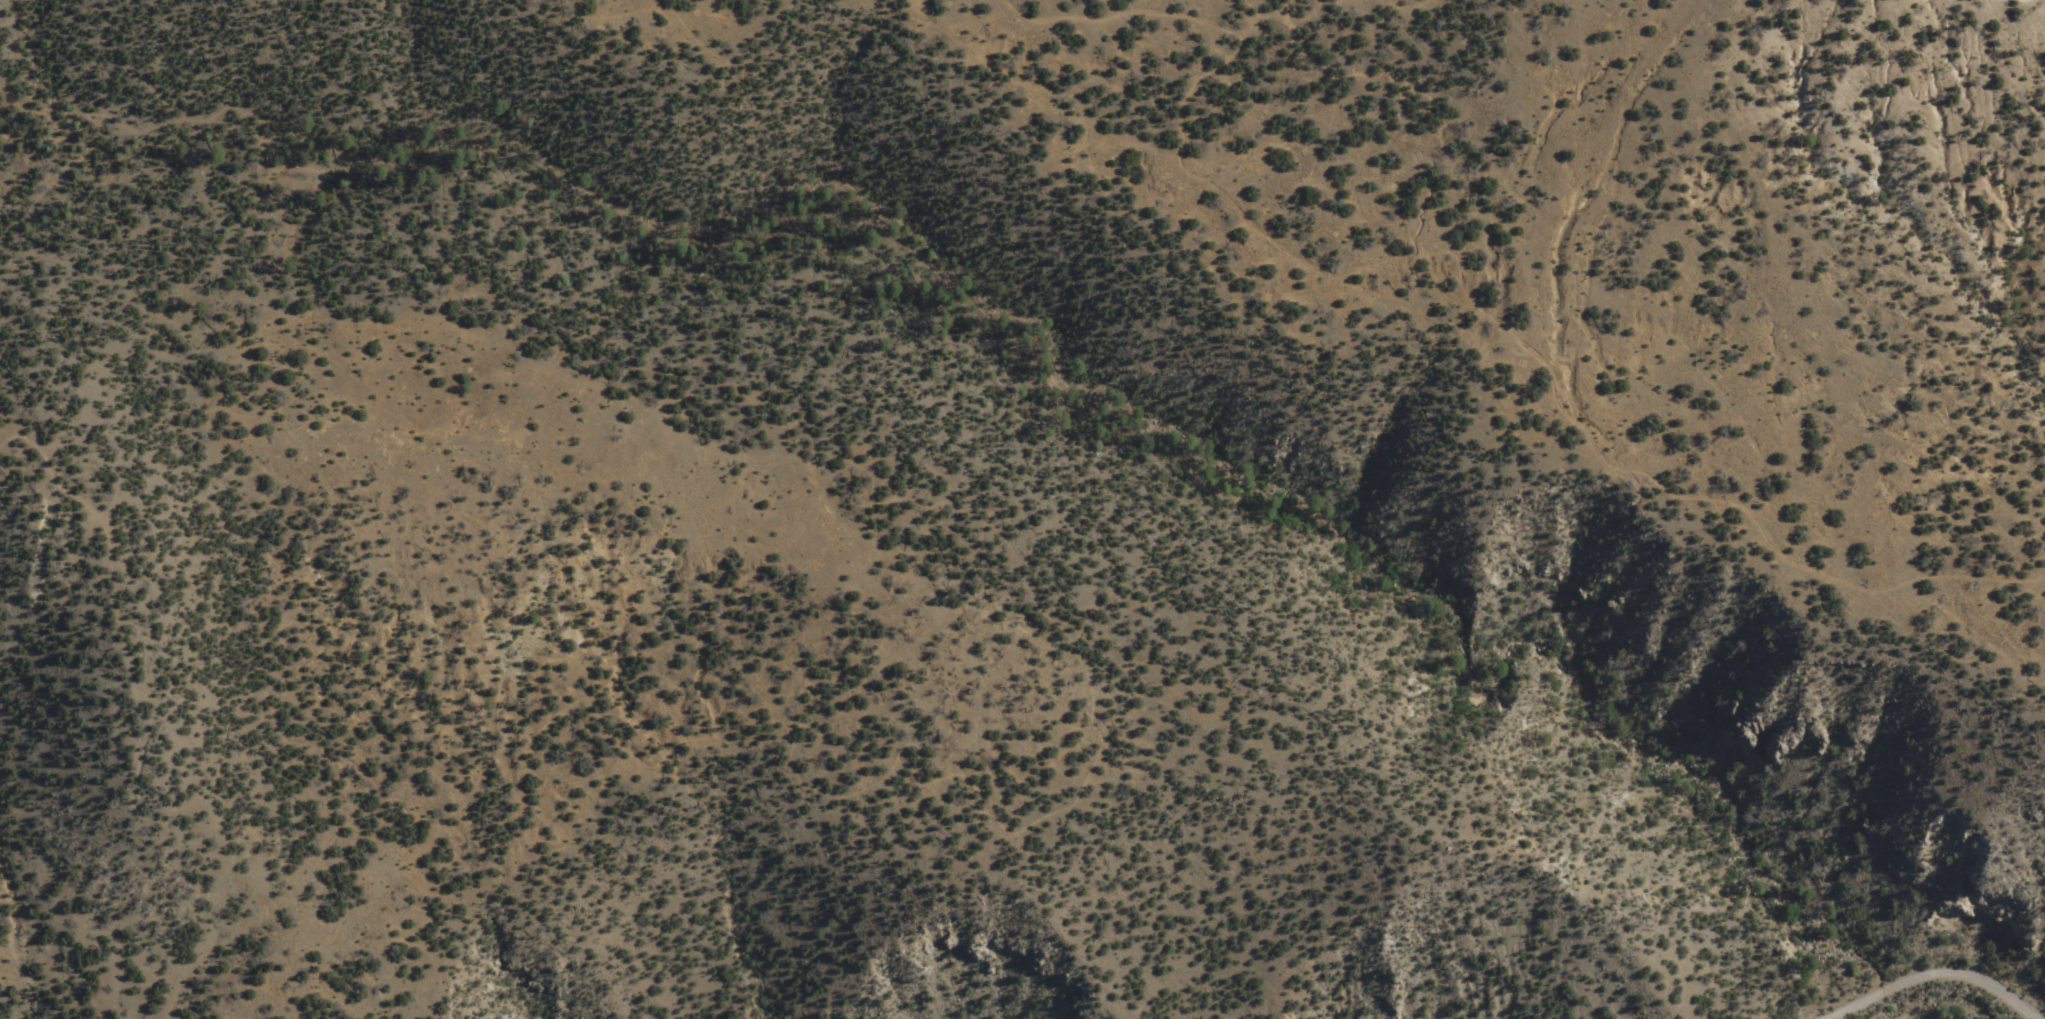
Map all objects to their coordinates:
road: (714, 51)
road: (1461, 279)
road: (1083, 771)
road: (1933, 977)

